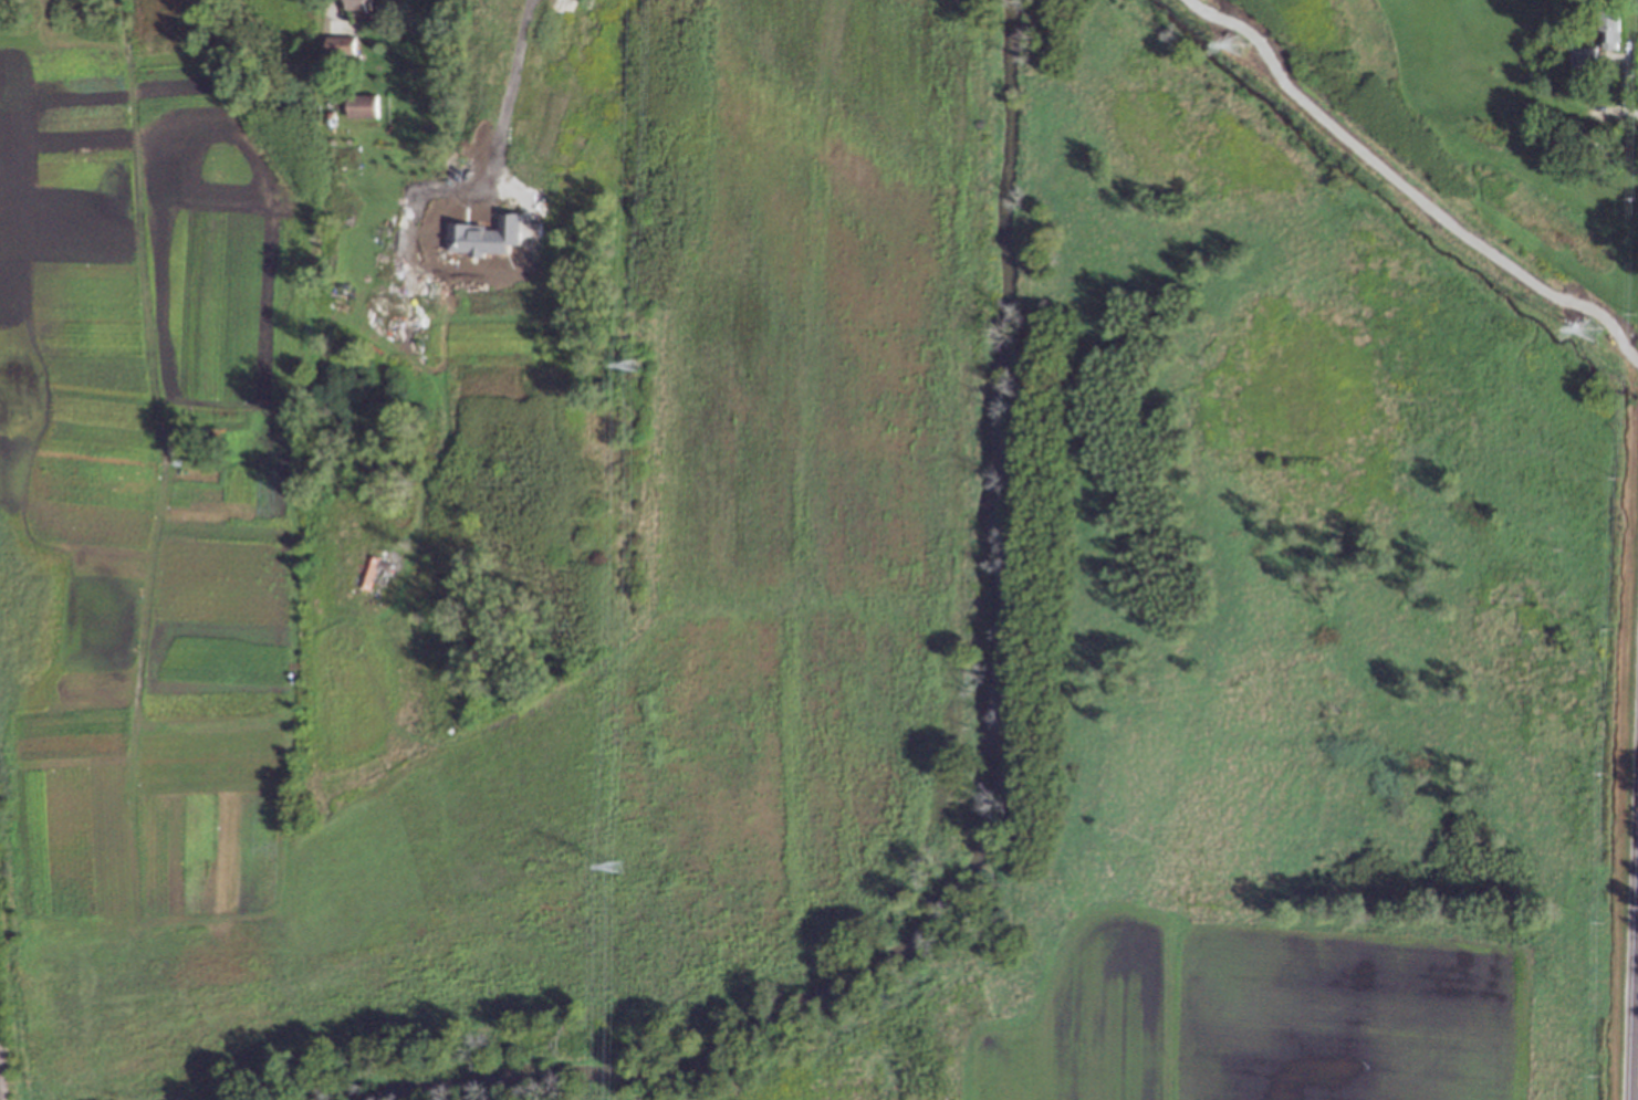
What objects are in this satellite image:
building: (358, 6)
road: (334, 11)
building: (1608, 24)
building: (1564, 34)
building: (340, 45)
building: (1584, 59)
building: (336, 69)
road: (505, 98)
building: (363, 107)
building: (1566, 129)
building: (486, 235)
park: (153, 442)
park: (961, 620)
river: (997, 769)
crop: (1418, 1009)
road: (1637, 1094)

